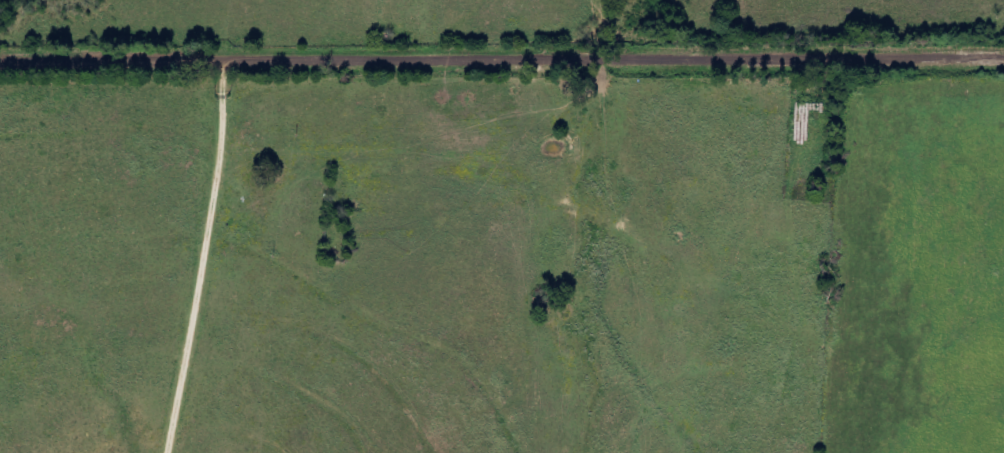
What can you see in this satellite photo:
road: (501, 59)
road: (67, 236)

